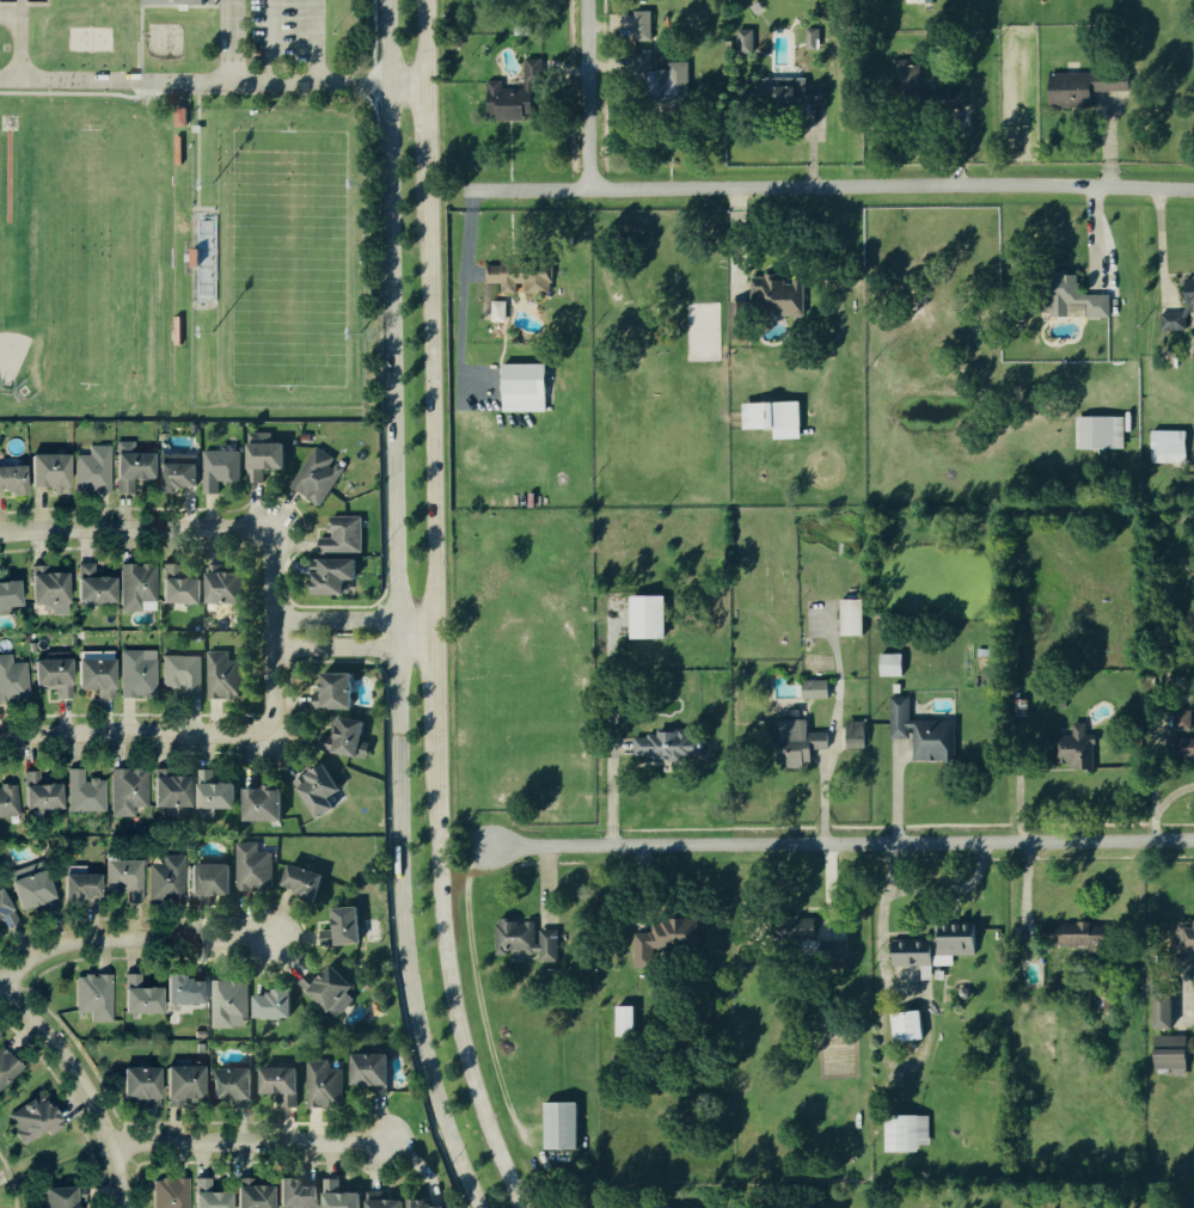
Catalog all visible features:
building: (923, 1)
building: (117, 2)
building: (644, 24)
building: (815, 37)
road: (423, 39)
building: (746, 39)
road: (265, 42)
road: (308, 42)
building: (908, 72)
building: (673, 75)
road: (404, 79)
road: (136, 81)
road: (265, 84)
building: (1086, 86)
building: (798, 88)
building: (521, 93)
road: (588, 93)
building: (184, 115)
road: (425, 125)
road: (828, 185)
road: (736, 239)
road: (1157, 241)
building: (522, 276)
road: (463, 283)
building: (1190, 284)
building: (784, 293)
building: (1077, 295)
building: (497, 312)
building: (1176, 319)
building: (523, 386)
road: (427, 400)
building: (777, 412)
building: (194, 428)
building: (1097, 433)
building: (304, 436)
building: (293, 442)
building: (1168, 447)
building: (269, 452)
building: (137, 459)
building: (322, 459)
building: (102, 466)
building: (222, 468)
building: (183, 471)
building: (51, 472)
building: (13, 480)
road: (134, 527)
building: (345, 535)
building: (338, 575)
building: (100, 585)
building: (142, 585)
building: (185, 585)
building: (228, 585)
building: (56, 589)
building: (12, 594)
road: (390, 609)
building: (647, 617)
building: (850, 617)
road: (349, 618)
road: (270, 630)
road: (351, 649)
building: (889, 664)
building: (142, 673)
building: (224, 673)
building: (185, 674)
building: (13, 676)
building: (60, 676)
building: (103, 676)
road: (429, 676)
building: (342, 689)
building: (814, 689)
building: (1184, 718)
road: (135, 732)
building: (858, 734)
building: (348, 736)
building: (798, 742)
building: (941, 742)
building: (669, 744)
building: (1078, 747)
building: (1184, 747)
building: (136, 785)
building: (322, 789)
building: (178, 791)
building: (90, 792)
building: (47, 793)
building: (221, 793)
building: (10, 801)
building: (267, 803)
road: (841, 842)
building: (251, 867)
building: (174, 876)
building: (215, 878)
building: (127, 879)
building: (306, 879)
building: (37, 885)
building: (88, 887)
building: (8, 908)
building: (348, 925)
building: (806, 926)
building: (518, 936)
building: (1084, 937)
road: (124, 938)
building: (665, 938)
building: (1192, 940)
building: (550, 945)
building: (832, 949)
building: (949, 949)
building: (911, 952)
road: (449, 970)
building: (335, 976)
building: (191, 991)
building: (99, 997)
building: (147, 997)
building: (232, 1002)
building: (271, 1004)
building: (376, 1007)
building: (1168, 1010)
building: (624, 1020)
building: (906, 1026)
building: (201, 1035)
building: (201, 1049)
building: (1175, 1051)
building: (8, 1067)
building: (375, 1071)
building: (283, 1080)
building: (191, 1083)
building: (147, 1084)
building: (325, 1084)
building: (238, 1085)
road: (85, 1087)
building: (41, 1120)
building: (559, 1127)
building: (911, 1133)
road: (246, 1146)
road: (4, 1160)
road: (11, 1173)
road: (16, 1194)
building: (176, 1194)
building: (304, 1194)
building: (216, 1196)
building: (262, 1196)
building: (343, 1196)
building: (62, 1197)
building: (388, 1203)
building: (424, 1203)
building: (666, 1207)

